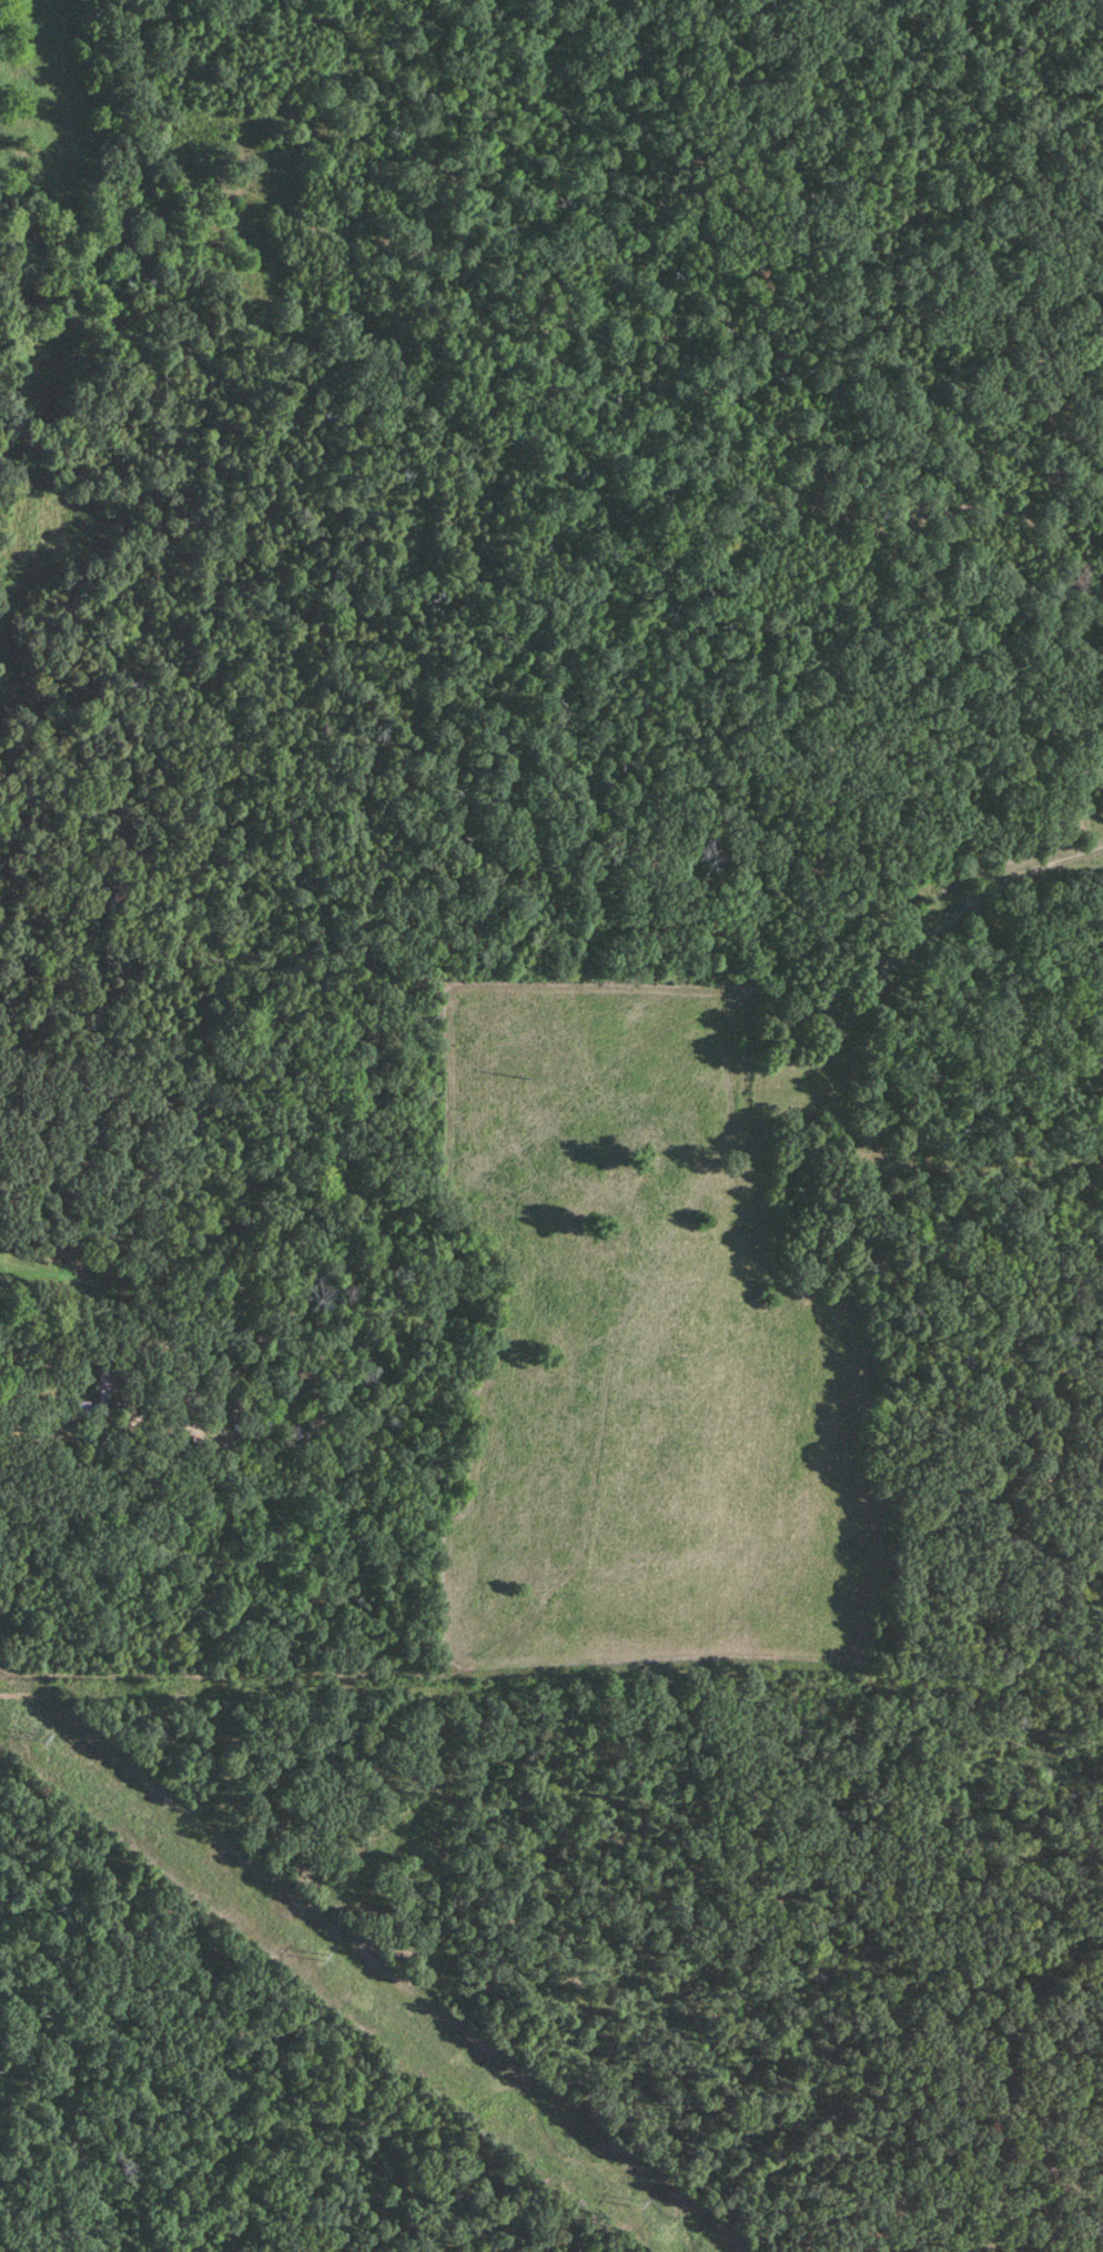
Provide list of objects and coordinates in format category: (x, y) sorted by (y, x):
building: (99, 1392)
road: (59, 1403)

